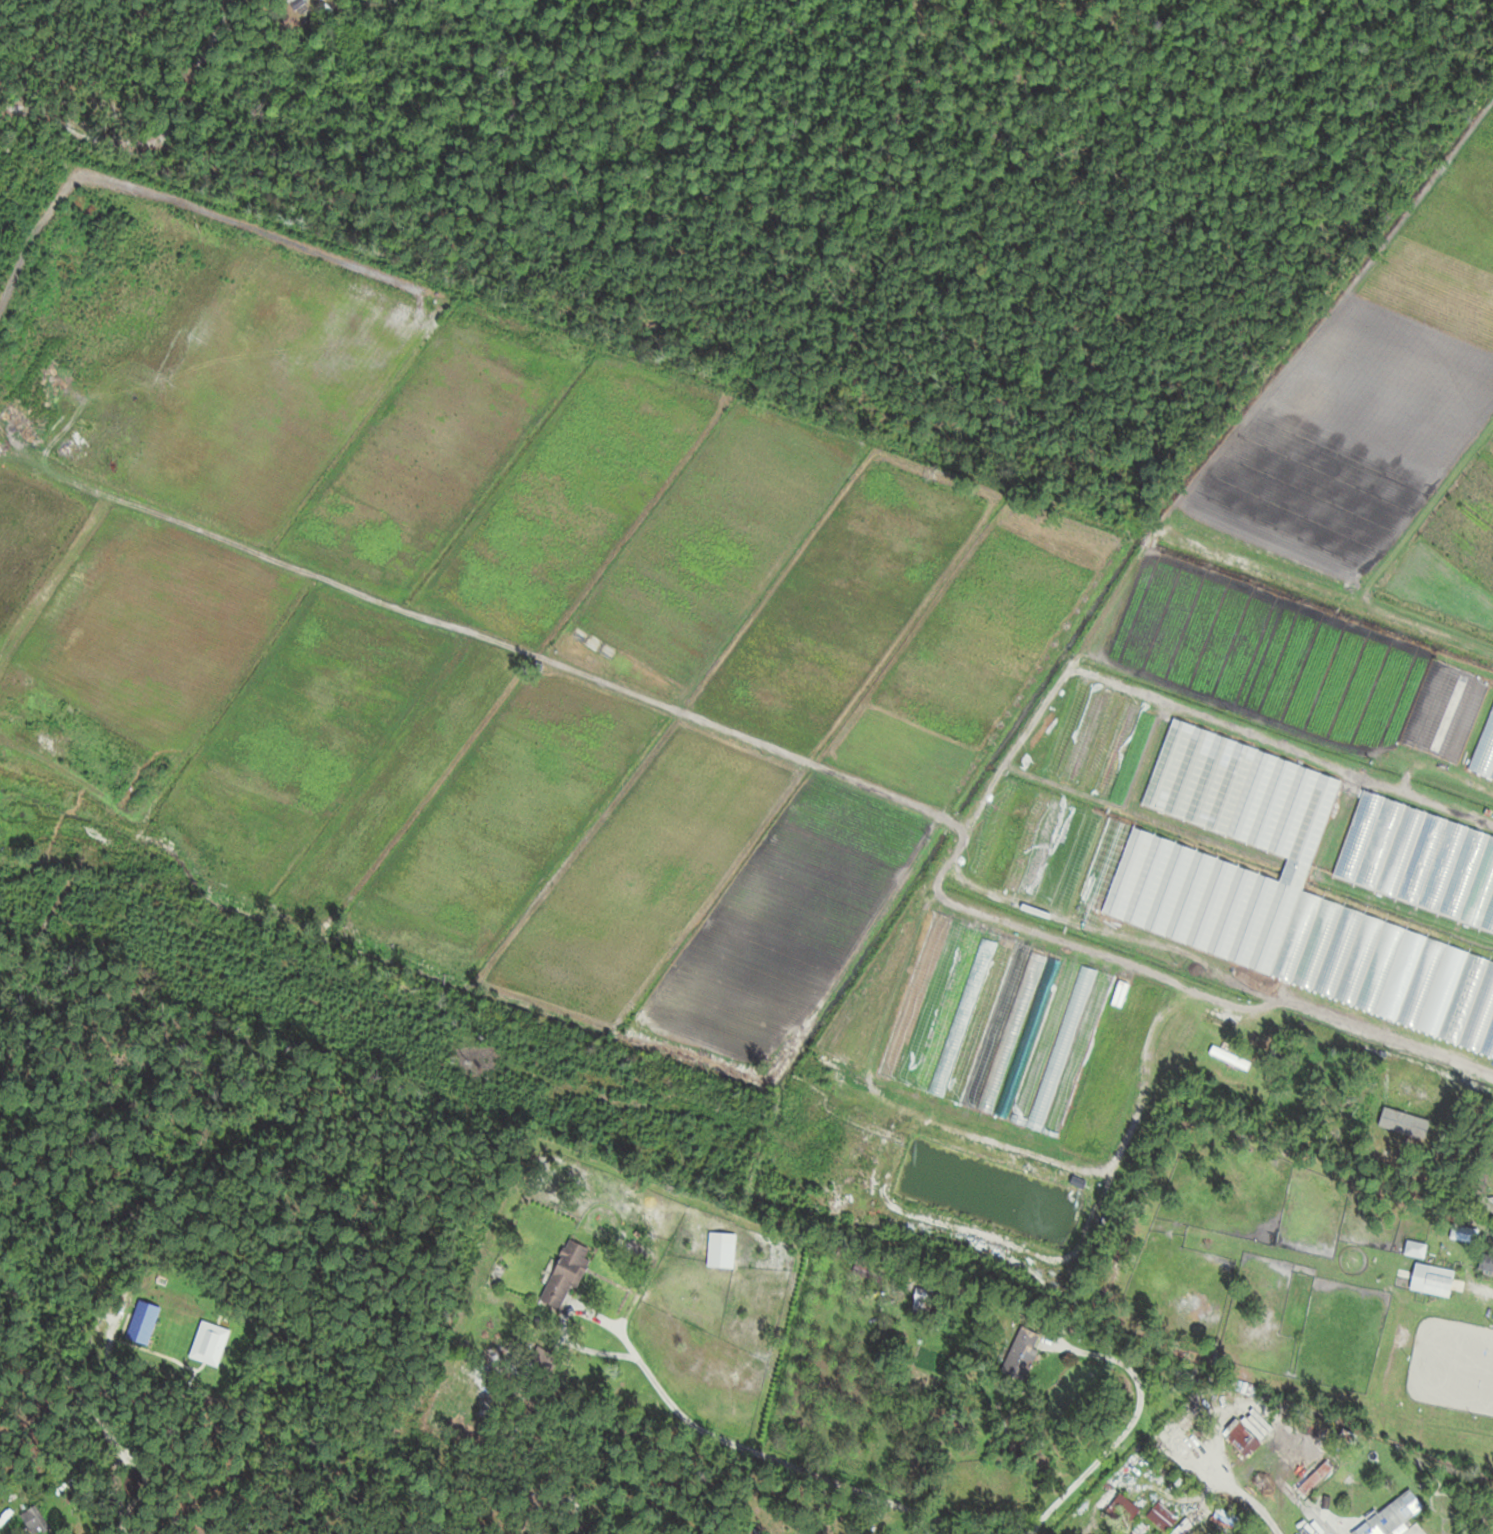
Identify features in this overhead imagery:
building: (1421, 738)
building: (1484, 753)
building: (1419, 861)
building: (1291, 908)
building: (991, 1025)
road: (1388, 1037)
building: (1230, 1057)
building: (1413, 1090)
building: (1464, 1233)
building: (1415, 1249)
building: (721, 1254)
building: (1486, 1262)
building: (567, 1275)
building: (1432, 1280)
road: (1486, 1289)
building: (922, 1301)
road: (563, 1313)
building: (1021, 1352)
building: (931, 1361)
road: (1128, 1426)
building: (1241, 1438)
road: (793, 1464)
building: (1122, 1511)
building: (1161, 1516)
building: (1392, 1516)
building: (34, 1521)
building: (800, 1527)
building: (752, 1531)

